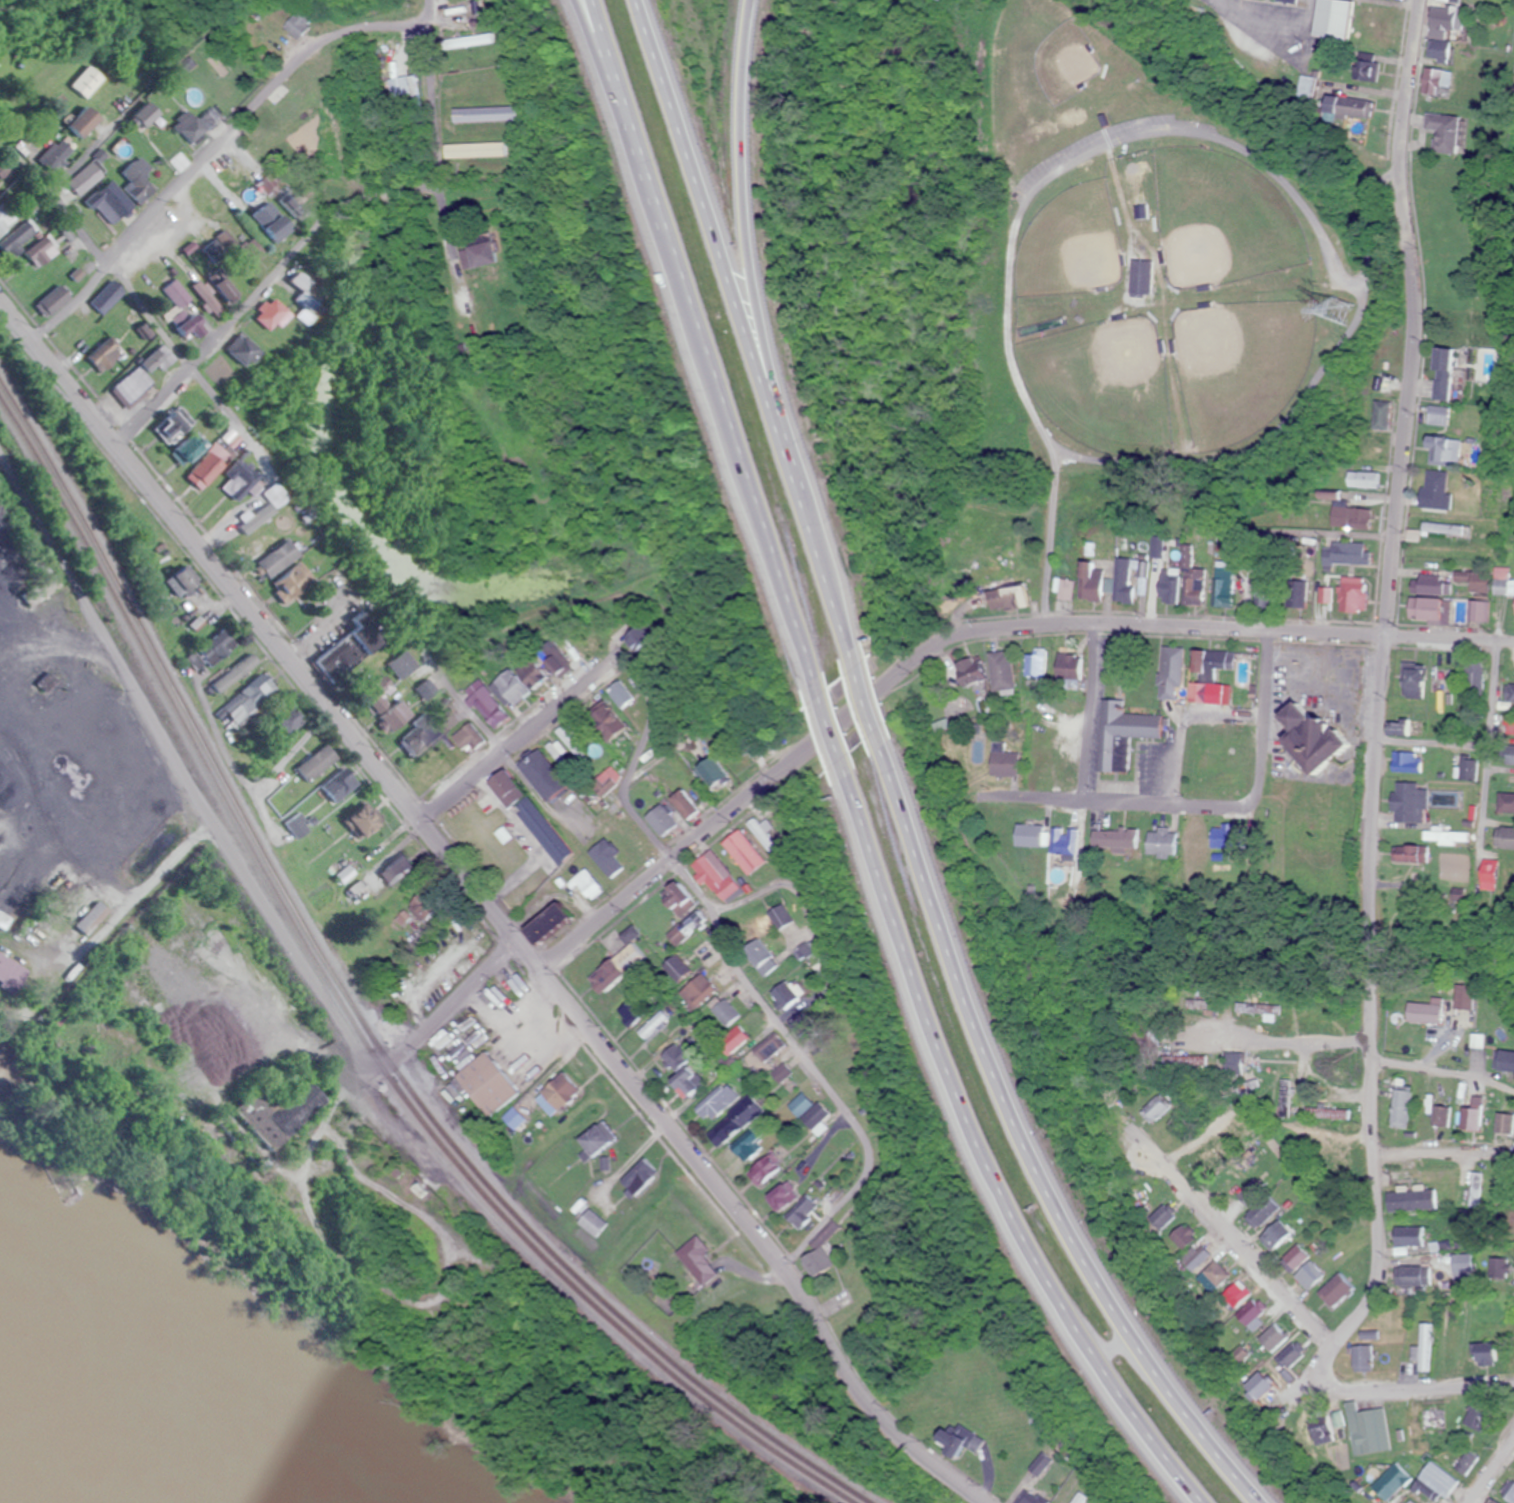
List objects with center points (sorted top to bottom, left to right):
road: (338, 16)
building: (298, 25)
road: (1304, 25)
road: (360, 27)
road: (374, 27)
road: (1240, 28)
road: (356, 39)
road: (59, 51)
road: (324, 64)
road: (334, 108)
building: (136, 114)
building: (75, 123)
road: (178, 179)
road: (54, 181)
park: (1233, 212)
building: (4, 218)
road: (319, 224)
road: (746, 227)
park: (1078, 236)
building: (39, 250)
park: (1174, 274)
building: (291, 282)
building: (48, 300)
power tower: (1339, 308)
building: (175, 313)
building: (266, 316)
road: (85, 323)
road: (749, 333)
road: (164, 338)
road: (703, 348)
building: (236, 352)
building: (99, 355)
park: (1250, 363)
building: (137, 376)
park: (1110, 384)
building: (172, 433)
building: (198, 470)
building: (232, 480)
building: (267, 495)
road: (672, 615)
road: (966, 632)
building: (637, 636)
building: (559, 660)
building: (1001, 670)
building: (968, 671)
building: (229, 672)
building: (517, 684)
building: (251, 691)
building: (620, 693)
road: (1380, 695)
road: (862, 700)
road: (1089, 712)
building: (388, 714)
building: (279, 719)
road: (1489, 720)
building: (608, 726)
road: (829, 727)
road: (526, 730)
building: (468, 738)
road: (1110, 738)
road: (1432, 745)
road: (638, 758)
building: (1004, 762)
building: (310, 763)
building: (711, 771)
building: (605, 780)
building: (332, 785)
building: (683, 803)
road: (1238, 806)
building: (660, 819)
building: (353, 821)
building: (292, 825)
road: (530, 833)
building: (1030, 834)
building: (1192, 836)
building: (1113, 837)
building: (1159, 840)
building: (1063, 841)
road: (228, 847)
building: (605, 860)
road: (573, 876)
building: (714, 876)
building: (355, 889)
building: (676, 898)
road: (487, 911)
building: (544, 922)
building: (628, 933)
building: (761, 956)
building: (6, 970)
building: (601, 976)
building: (697, 990)
building: (785, 994)
road: (668, 1003)
railway: (363, 1010)
building: (629, 1010)
building: (724, 1011)
railway: (352, 1021)
building: (651, 1025)
road: (1302, 1039)
building: (732, 1040)
building: (768, 1046)
building: (1184, 1063)
road: (814, 1068)
road: (1424, 1070)
building: (681, 1071)
building: (484, 1085)
building: (558, 1091)
building: (717, 1102)
building: (1399, 1107)
building: (807, 1112)
building: (1439, 1116)
building: (1469, 1117)
building: (733, 1122)
building: (1503, 1123)
building: (592, 1139)
road: (1029, 1139)
building: (747, 1146)
road: (1391, 1146)
road: (977, 1152)
building: (763, 1171)
building: (781, 1195)
building: (1415, 1200)
building: (801, 1212)
building: (591, 1222)
building: (826, 1233)
building: (1274, 1236)
building: (1408, 1236)
road: (1247, 1253)
building: (1201, 1258)
building: (1293, 1259)
building: (1462, 1262)
building: (1213, 1276)
building: (1304, 1279)
building: (1335, 1290)
building: (1234, 1297)
building: (1249, 1314)
building: (1271, 1338)
building: (1424, 1347)
building: (1484, 1353)
building: (1510, 1353)
building: (1288, 1356)
building: (1361, 1358)
building: (1257, 1386)
road: (1418, 1392)
building: (1431, 1418)
building: (1376, 1430)
road: (1489, 1468)
building: (1513, 1473)
building: (1437, 1479)
building: (1507, 1491)
building: (1079, 1498)
building: (1410, 1501)
building: (1493, 1501)

